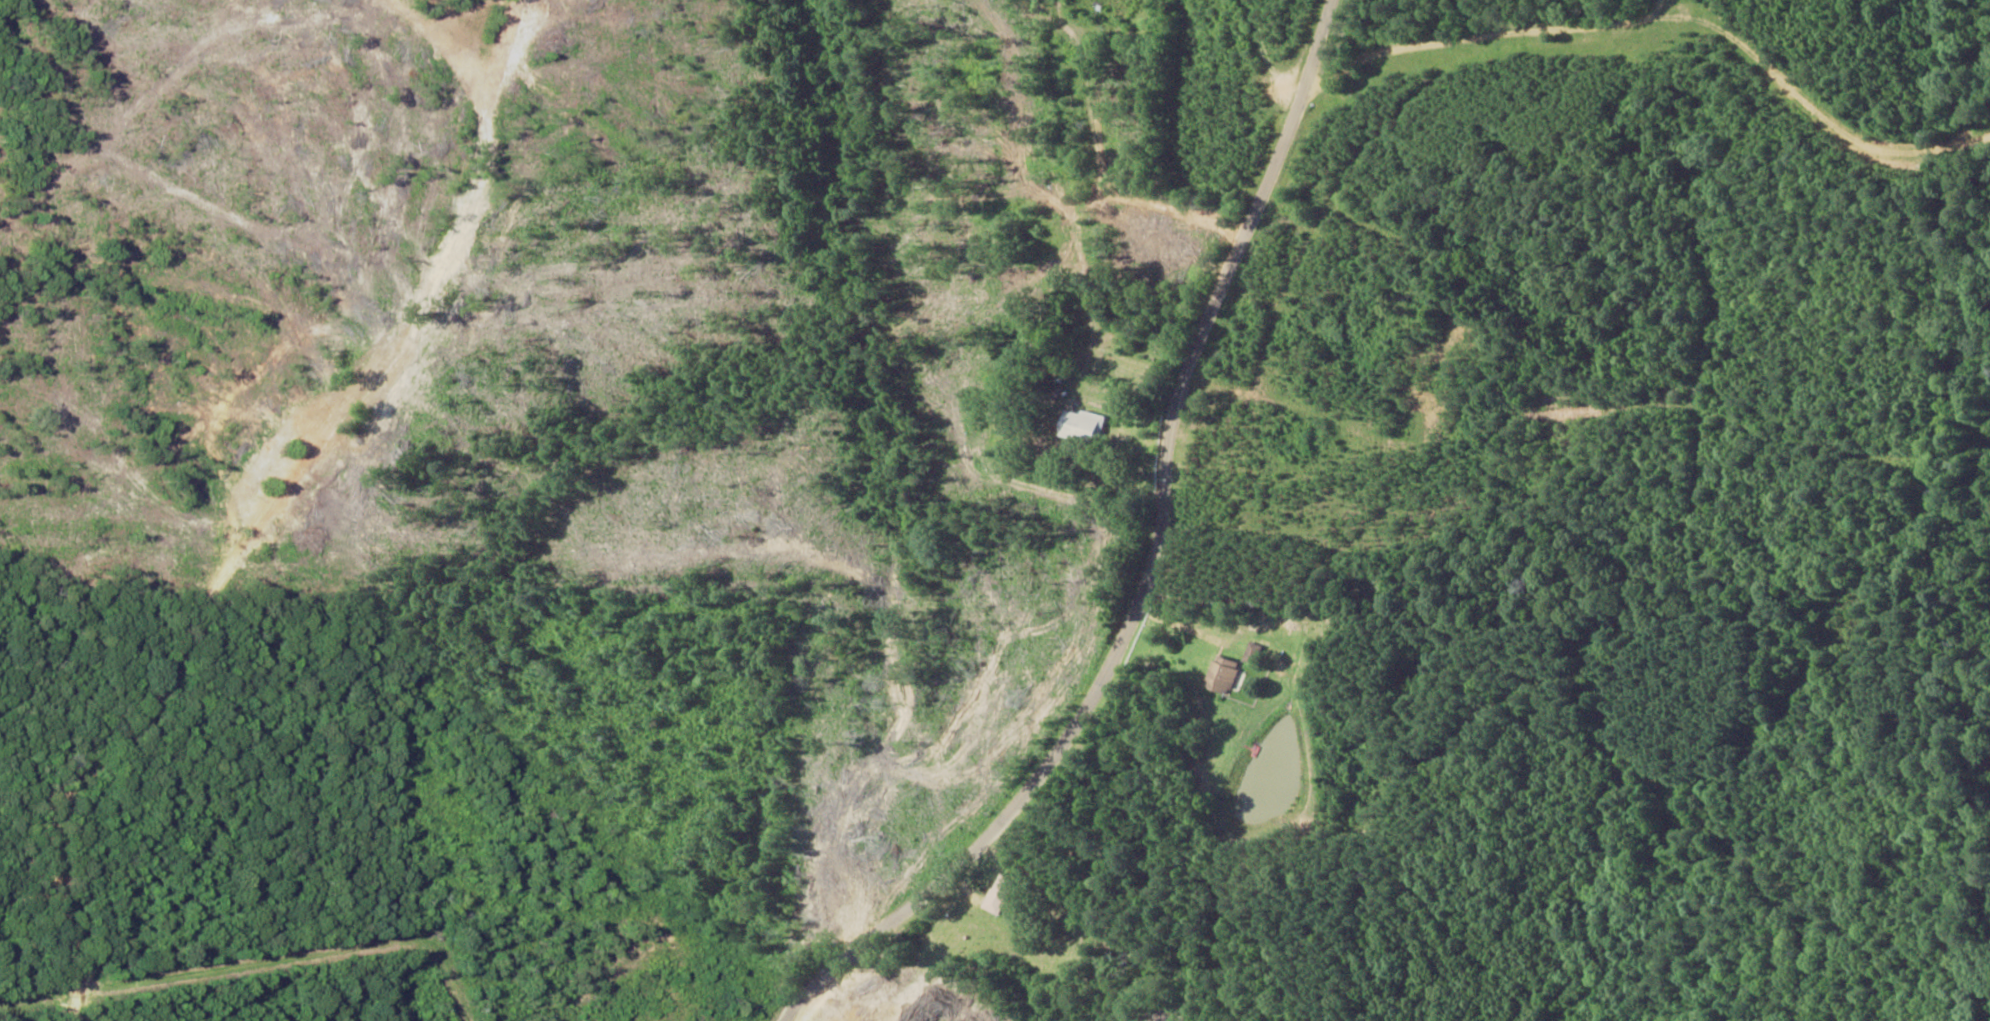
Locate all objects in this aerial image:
building: (1088, 427)
road: (1150, 566)
building: (1255, 651)
building: (1224, 672)
building: (1001, 893)

